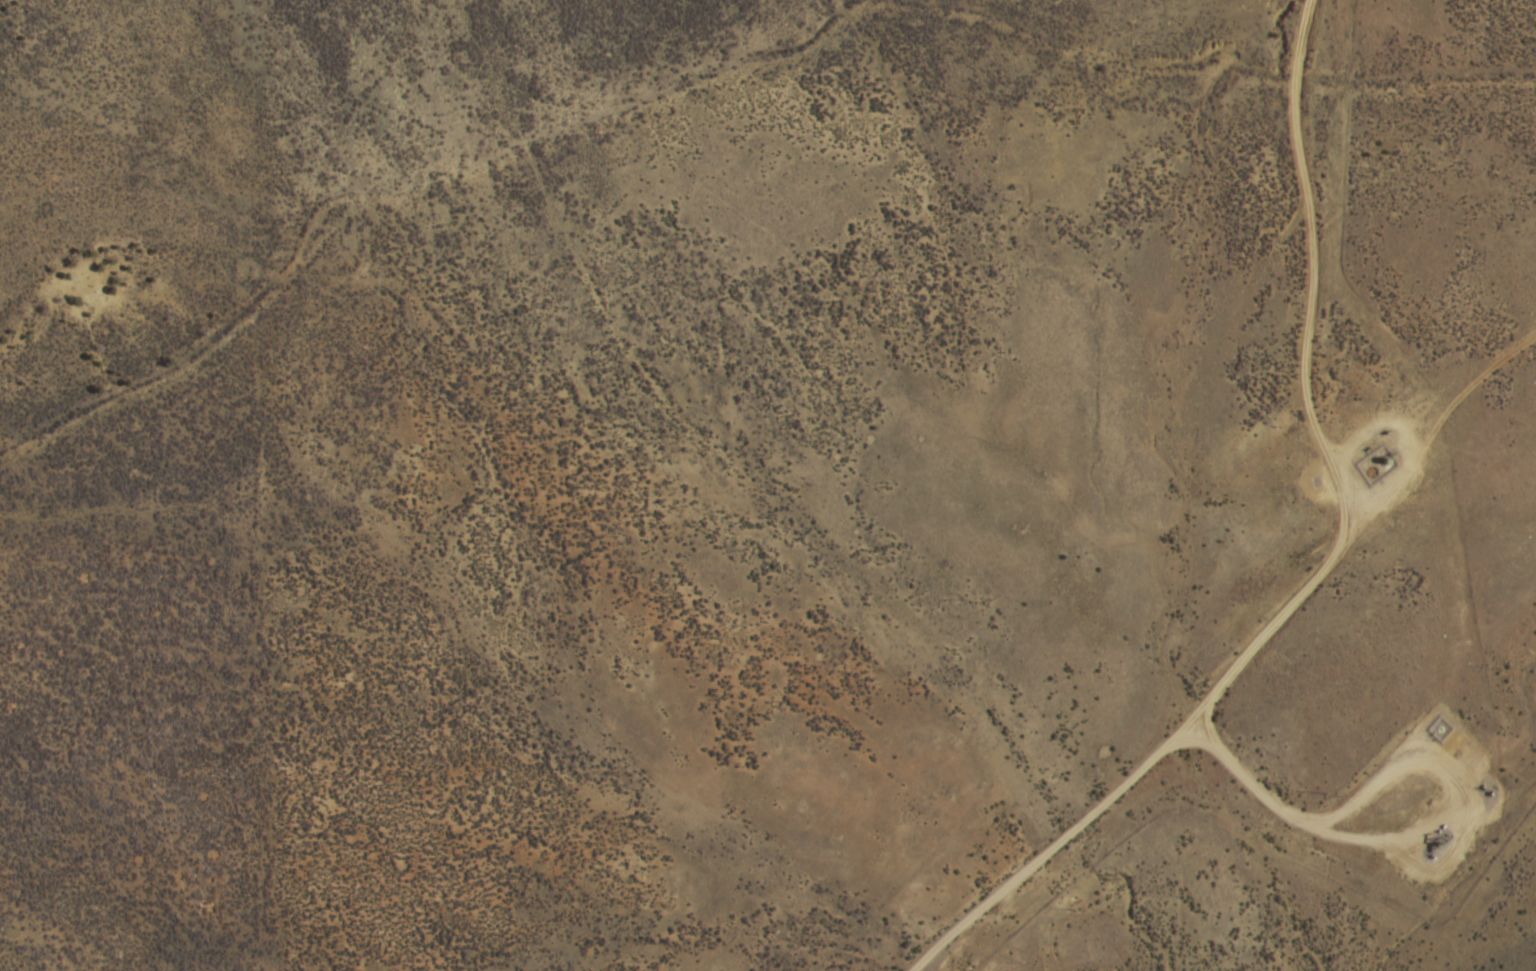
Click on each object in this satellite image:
road: (1228, 525)
road: (1000, 960)

